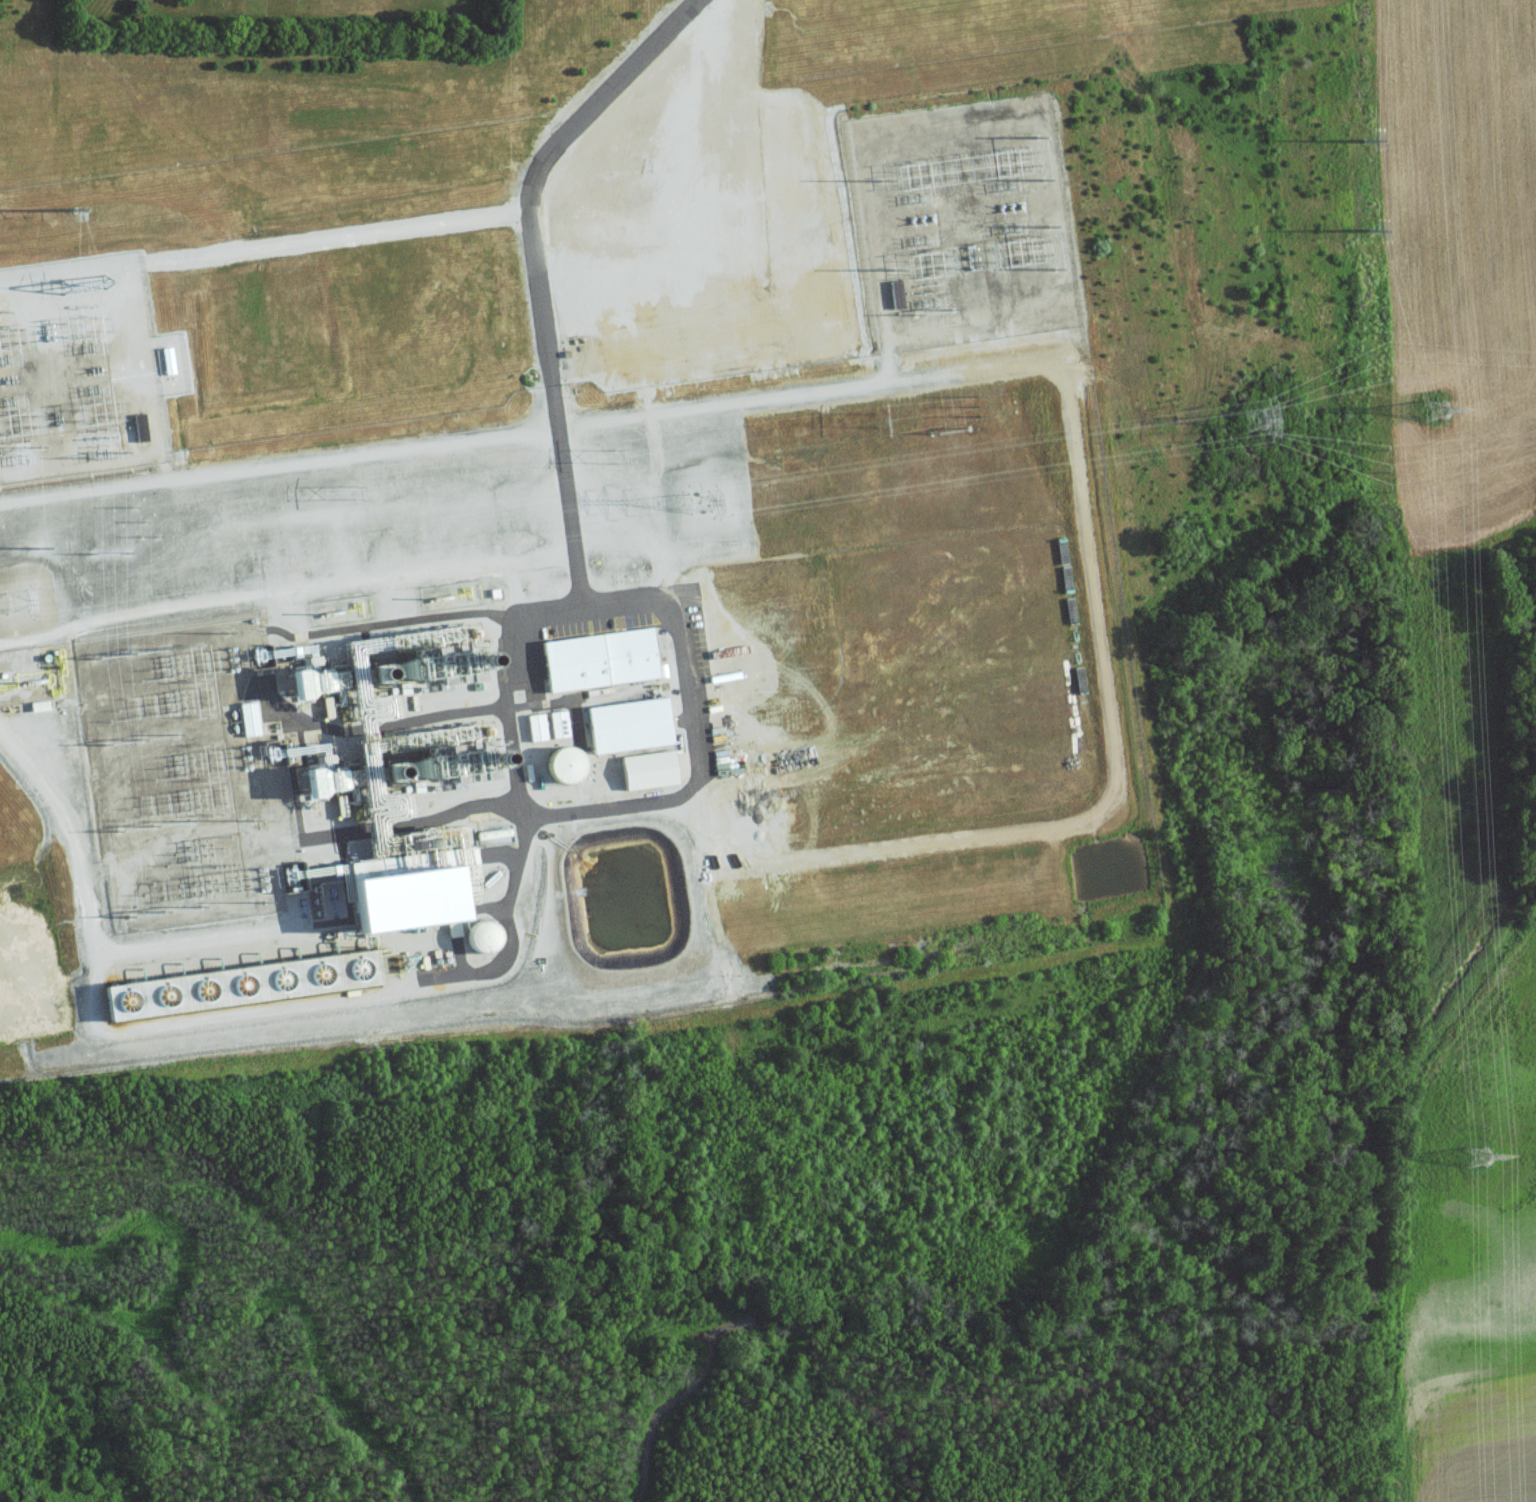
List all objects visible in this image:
power tower: (1365, 143)
road: (537, 161)
power tower: (74, 209)
power substation: (967, 223)
power tower: (1371, 232)
power tower: (84, 284)
power substation: (84, 368)
power tower: (980, 407)
power tower: (1434, 410)
power tower: (1258, 420)
power tower: (880, 421)
power tower: (959, 431)
power tower: (617, 456)
power tower: (356, 491)
road: (567, 492)
power tower: (709, 503)
power tower: (148, 520)
power tower: (39, 548)
power tower: (116, 552)
power tower: (10, 601)
chimney: (495, 659)
chimney: (385, 673)
chimney: (508, 759)
power substation: (186, 773)
chimney: (398, 774)
building: (239, 986)
power tower: (1477, 1156)

